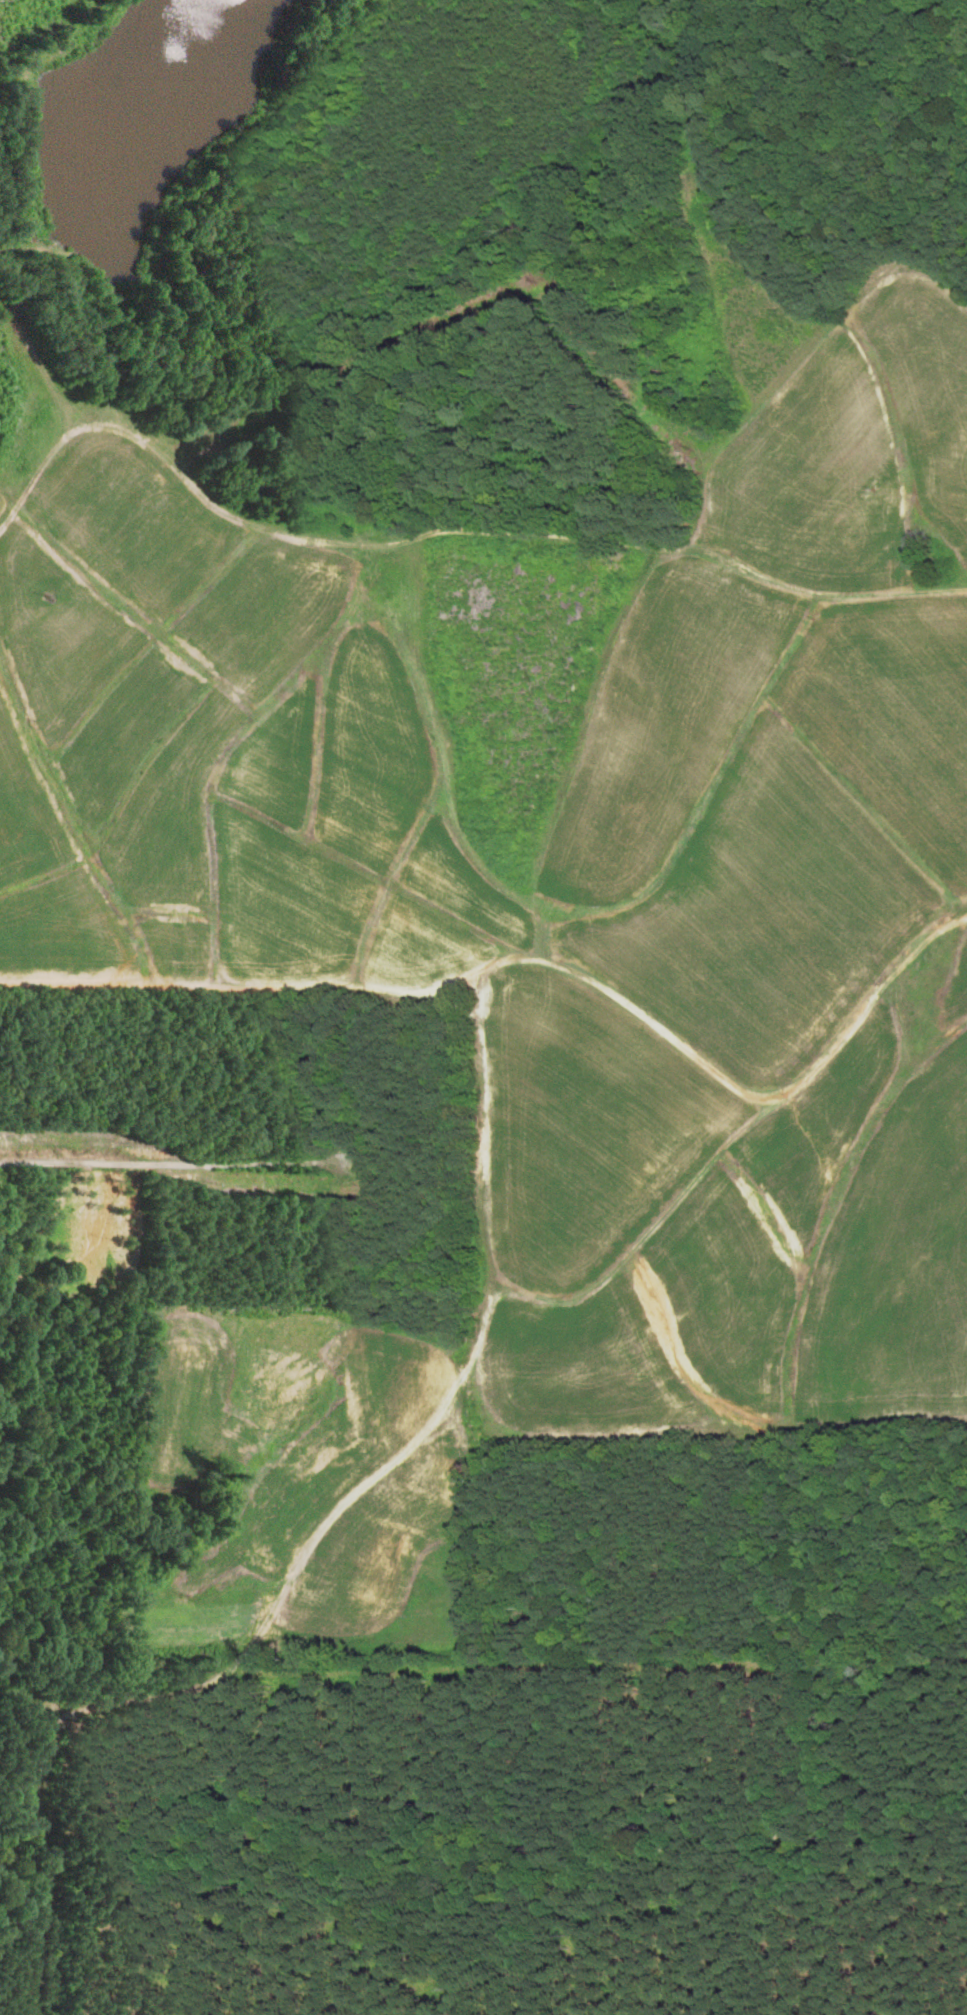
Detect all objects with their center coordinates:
building: (662, 364)
road: (171, 1163)

